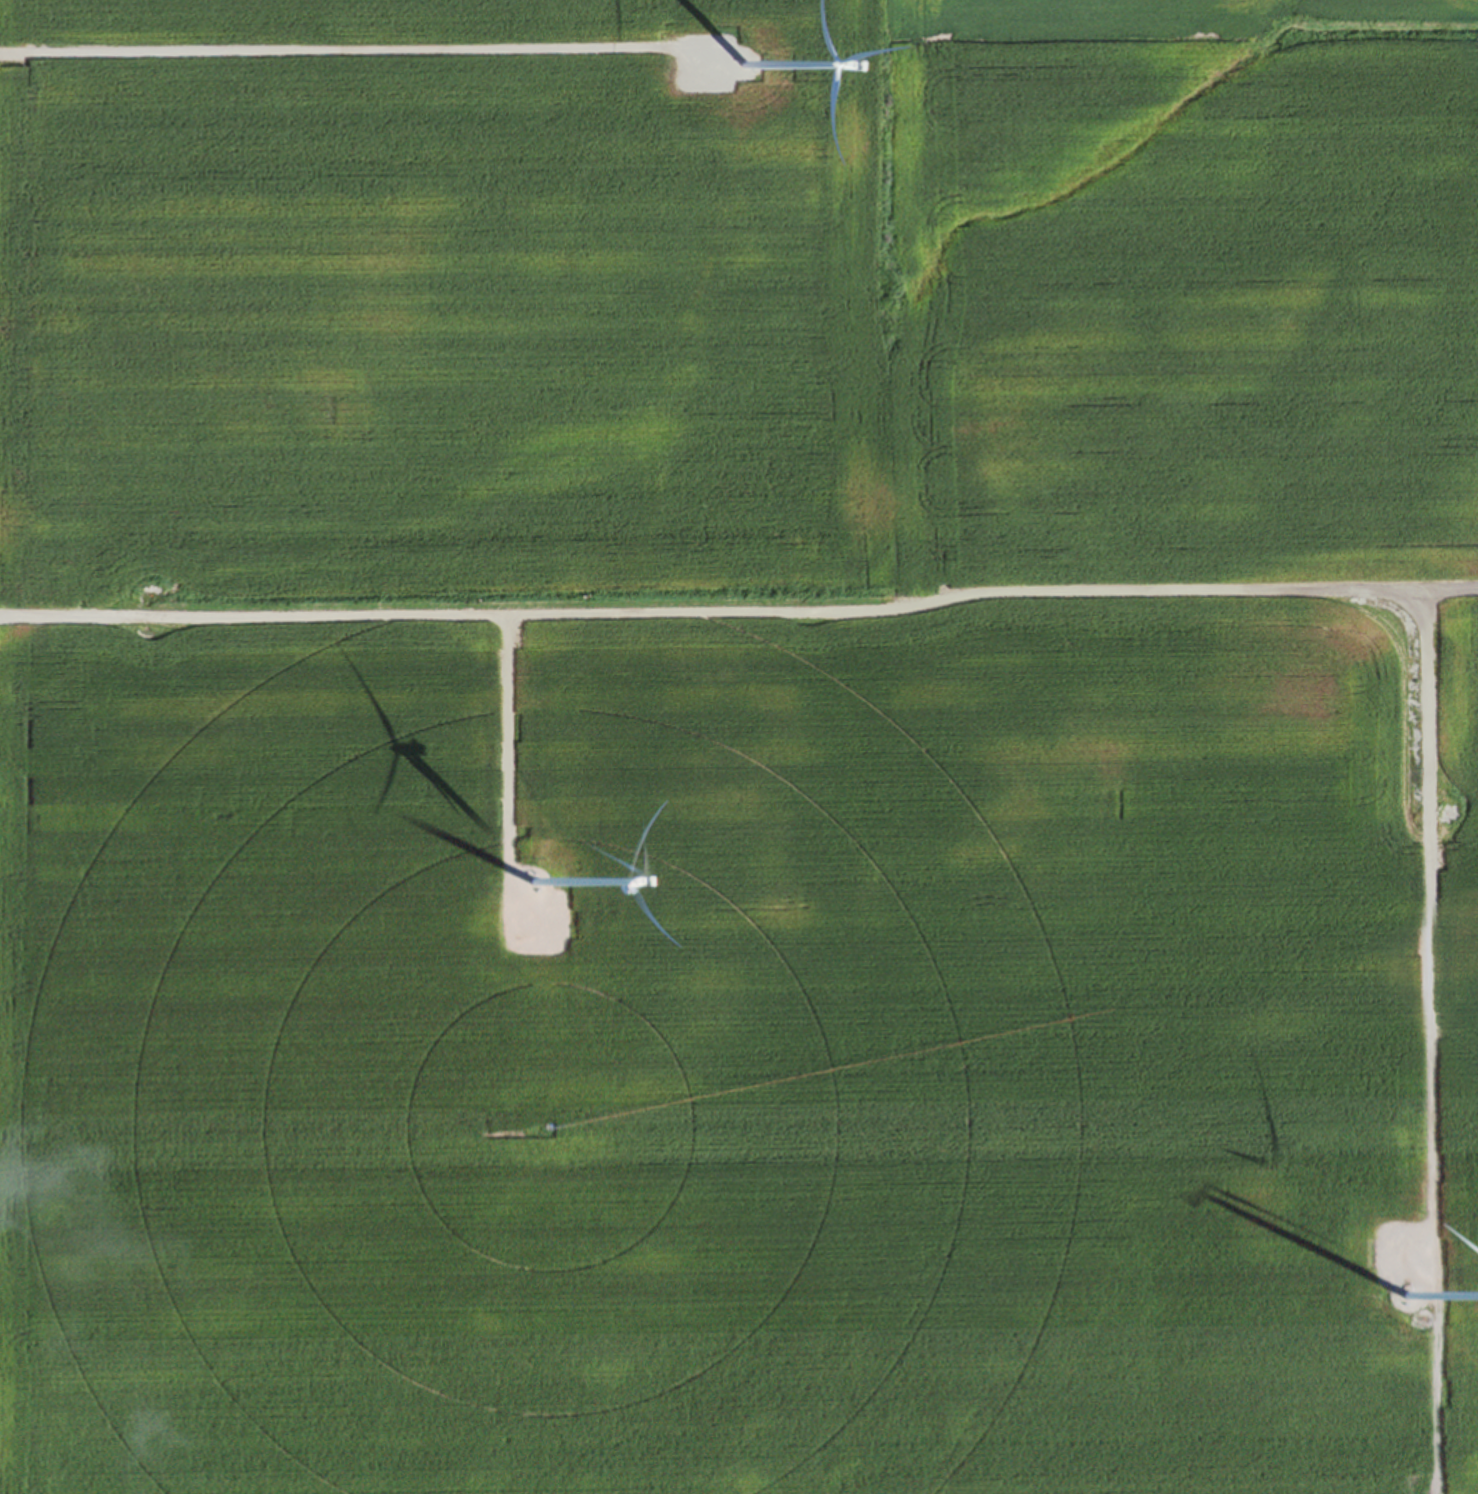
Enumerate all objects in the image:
road: (358, 56)
wind turbine: (738, 67)
road: (739, 617)
wind turbine: (538, 886)
road: (1426, 937)
wind turbine: (1398, 1296)

